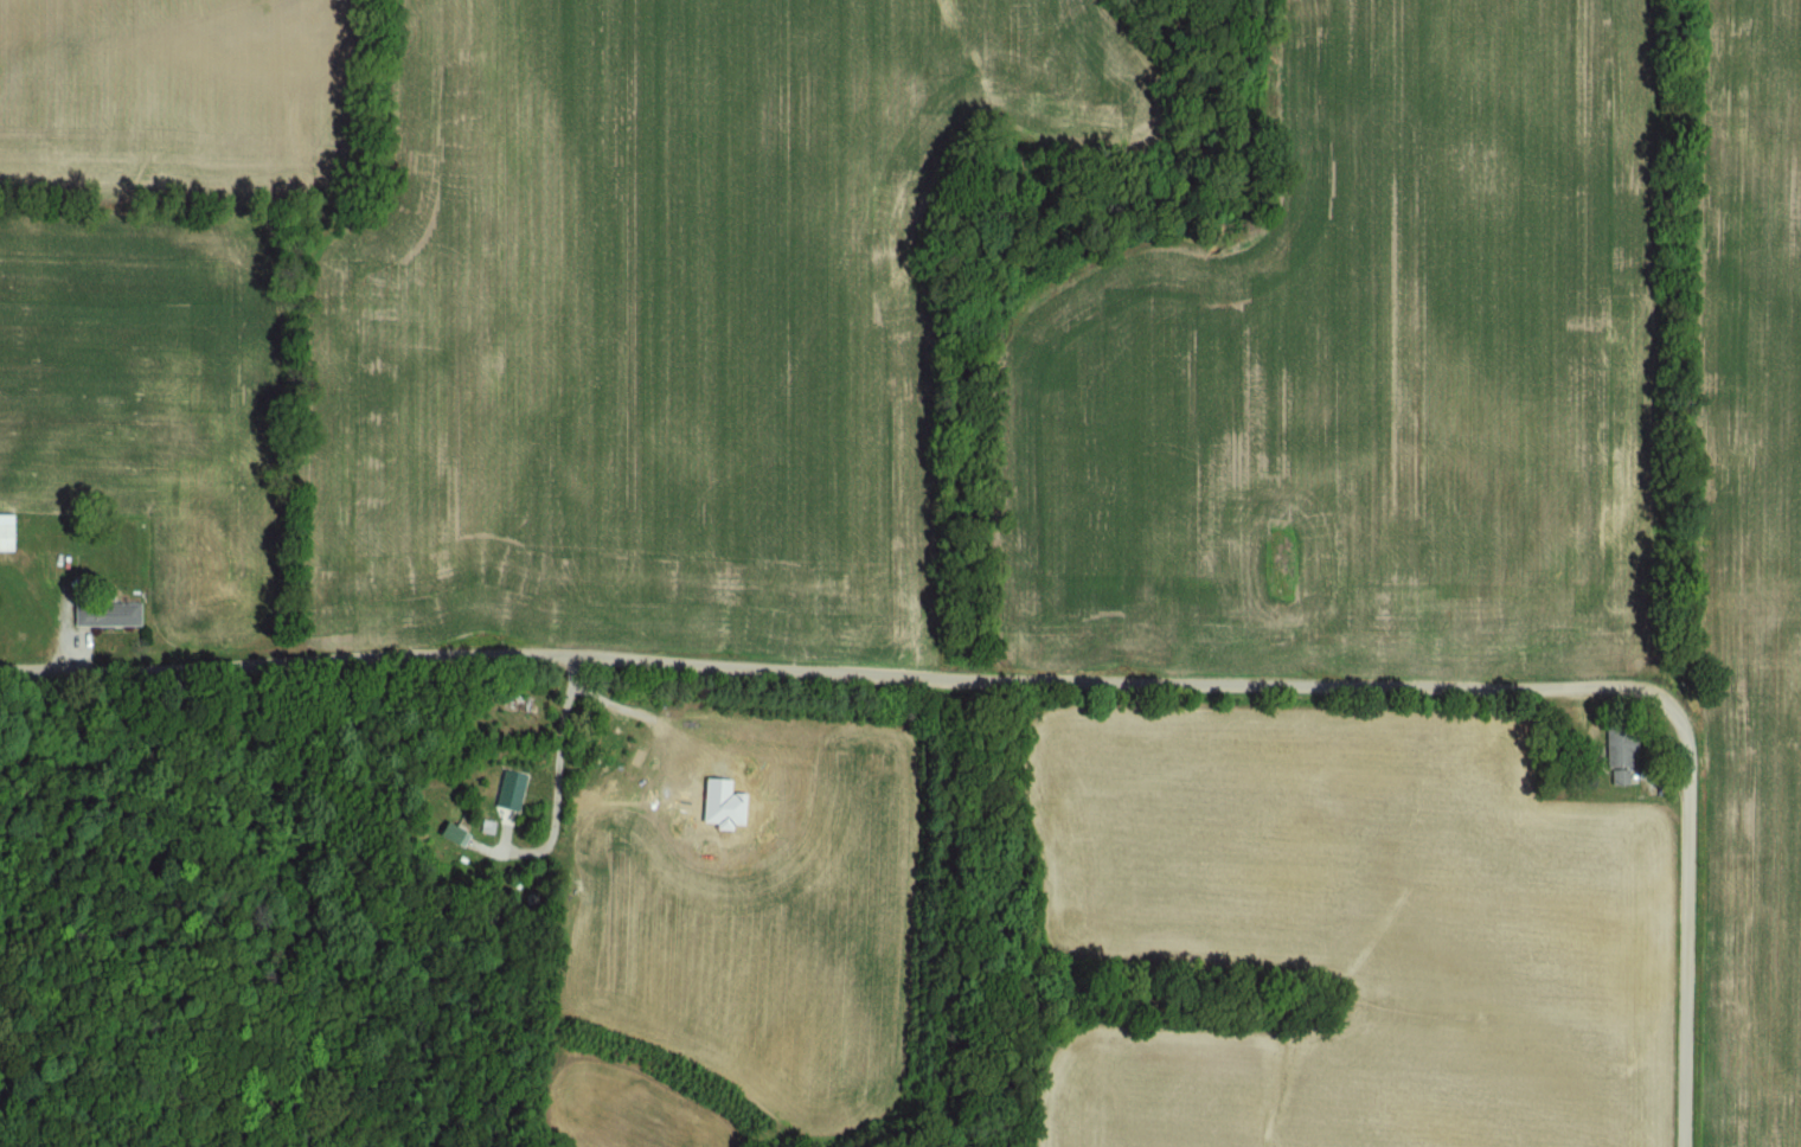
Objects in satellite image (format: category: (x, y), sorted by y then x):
building: (11, 533)
building: (114, 614)
road: (1055, 681)
road: (563, 729)
building: (1628, 744)
building: (462, 835)

